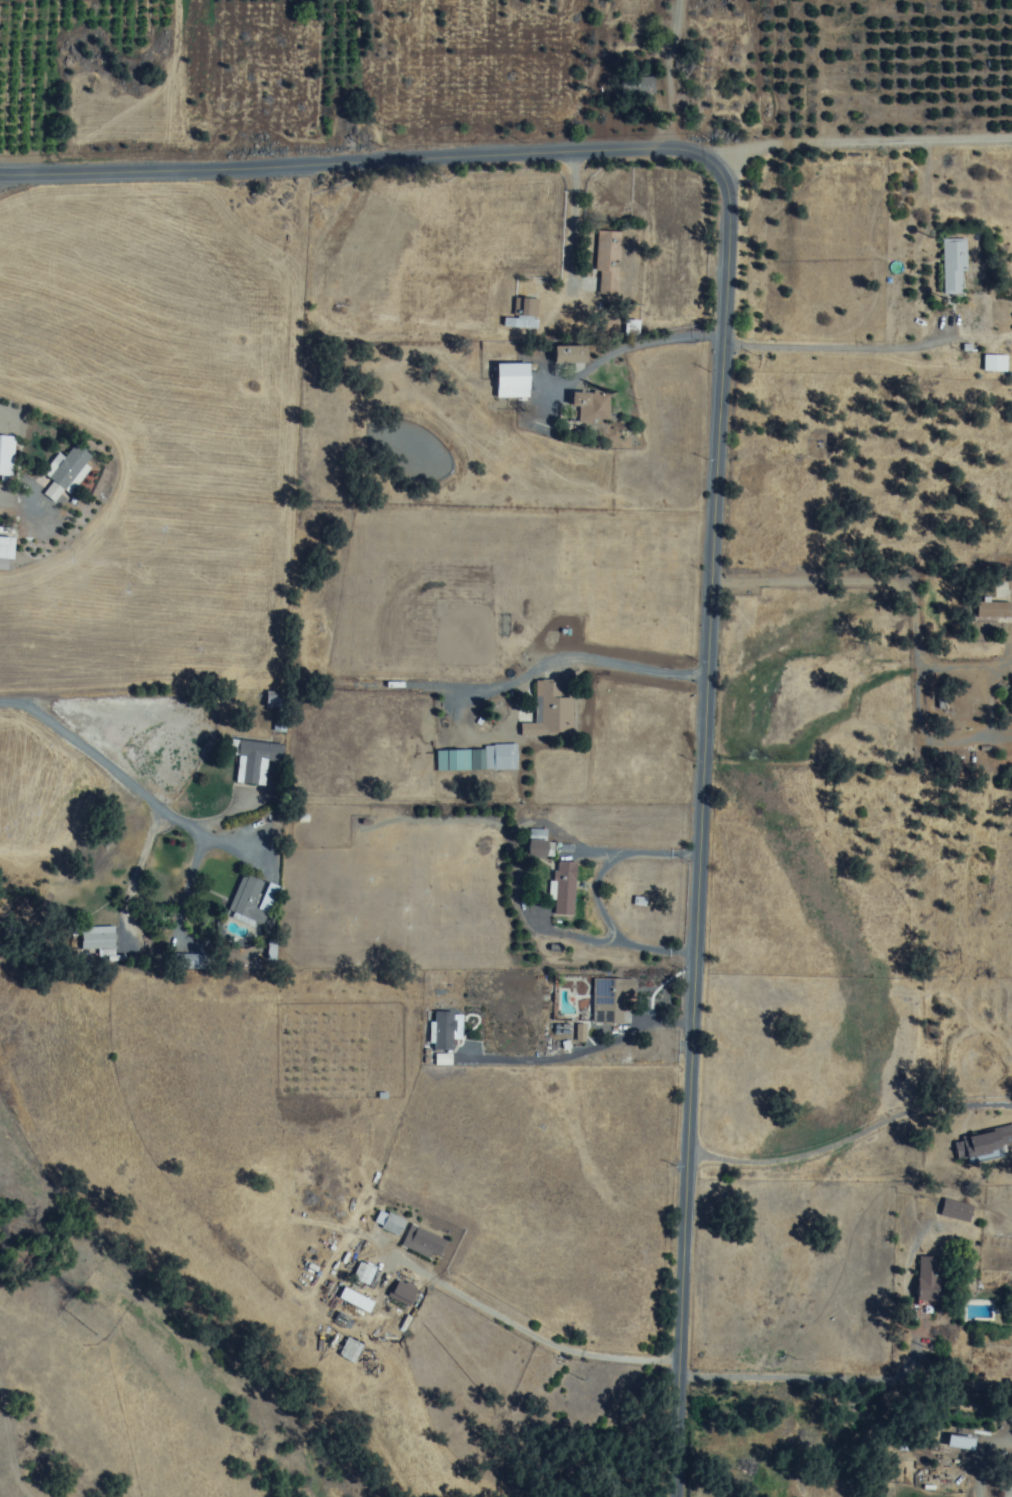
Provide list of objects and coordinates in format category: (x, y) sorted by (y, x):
road: (688, 73)
crop: (503, 85)
road: (909, 141)
road: (403, 154)
building: (606, 263)
building: (952, 266)
building: (520, 313)
road: (868, 345)
building: (564, 356)
building: (993, 365)
building: (508, 382)
building: (585, 410)
building: (5, 454)
building: (70, 468)
building: (990, 613)
building: (276, 700)
building: (550, 712)
building: (476, 758)
building: (255, 761)
road: (129, 774)
road: (705, 822)
building: (532, 849)
building: (562, 882)
road: (598, 892)
building: (253, 899)
building: (98, 938)
building: (608, 1000)
building: (447, 1031)
road: (588, 1047)
building: (983, 1143)
building: (953, 1211)
building: (392, 1225)
building: (421, 1243)
building: (362, 1274)
building: (924, 1280)
road: (537, 1335)
building: (350, 1351)
crop: (617, 1395)
building: (956, 1444)

